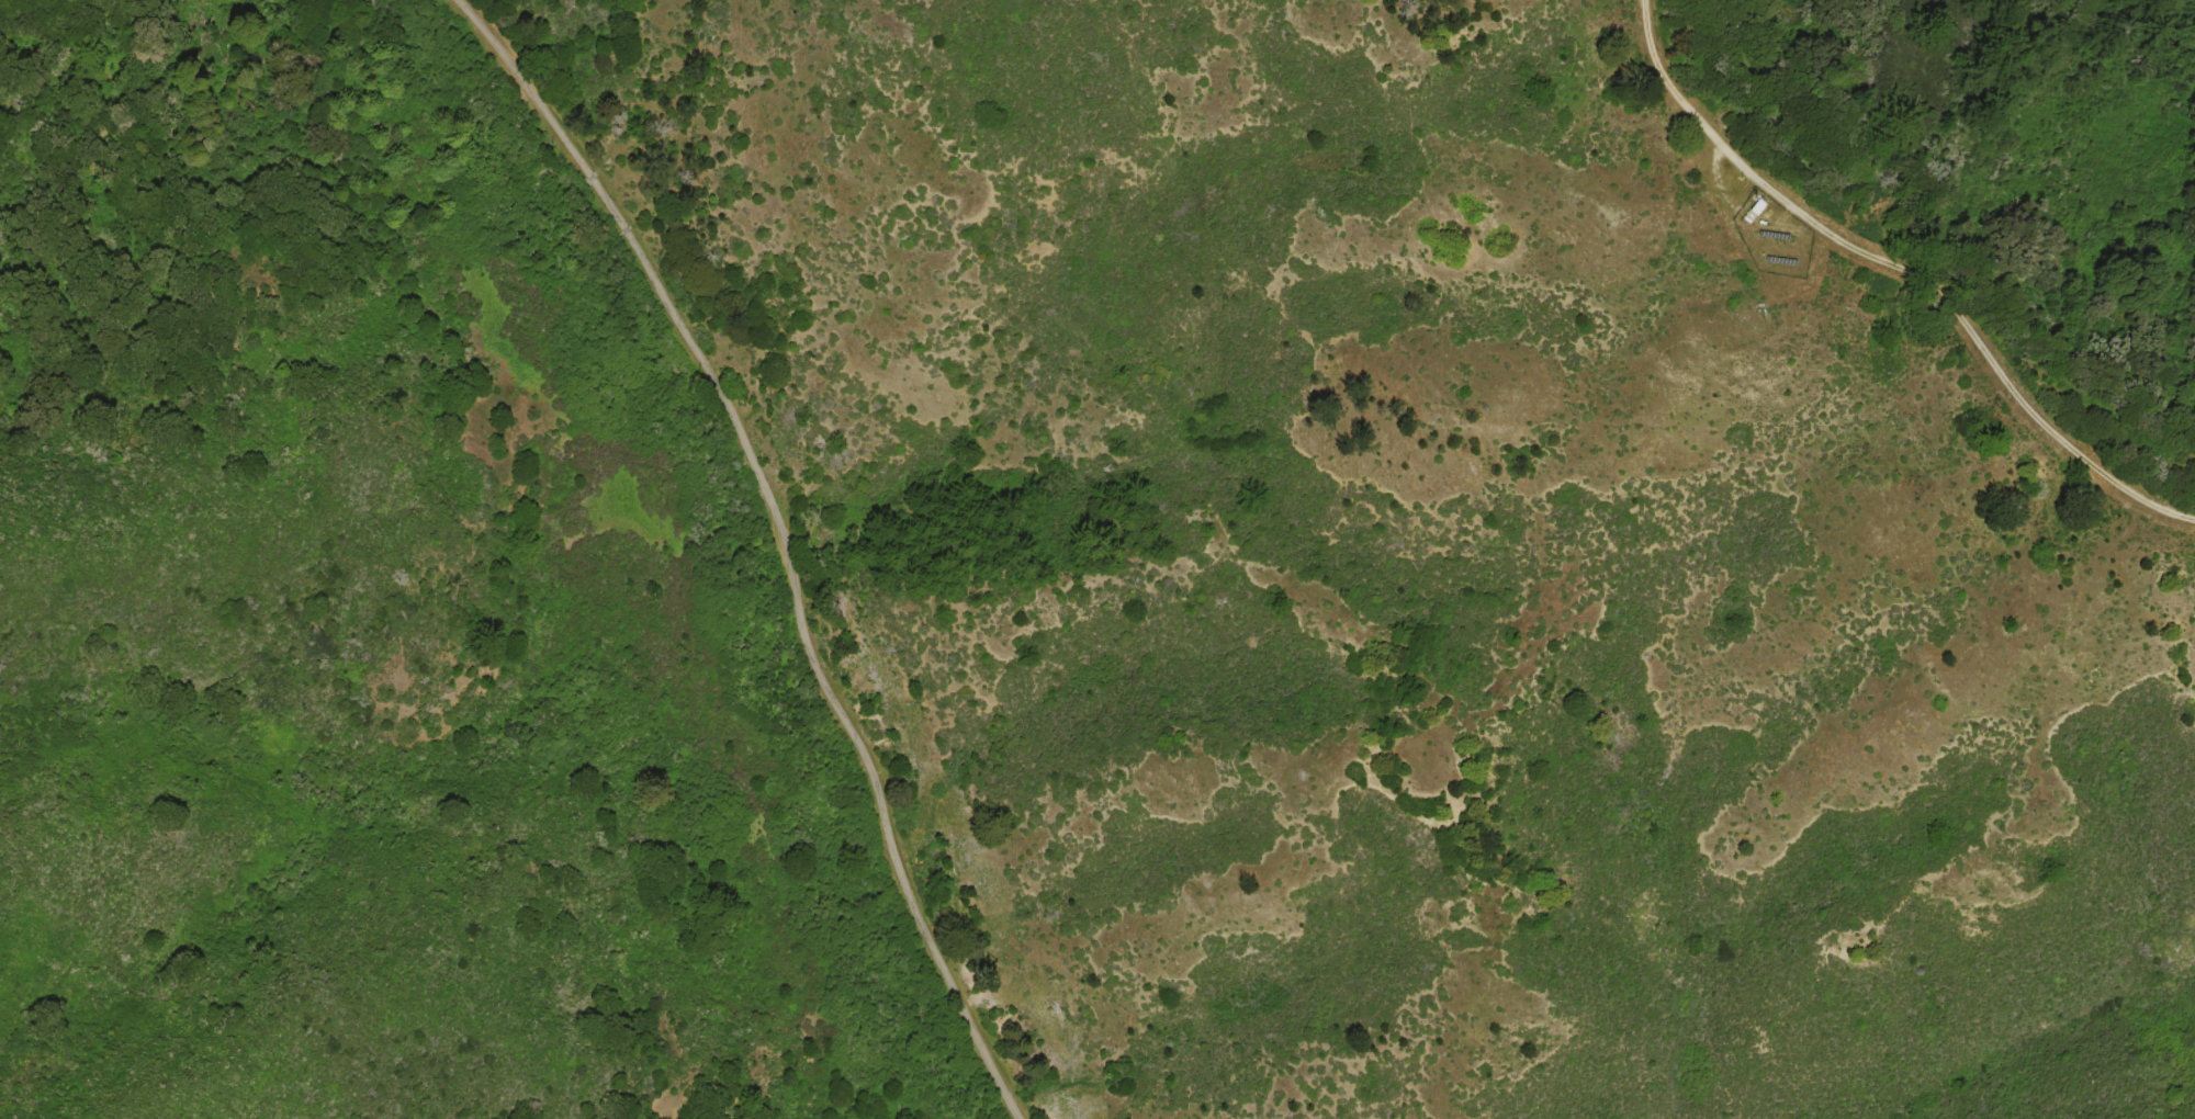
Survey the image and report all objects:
road: (1905, 271)
road: (780, 542)

